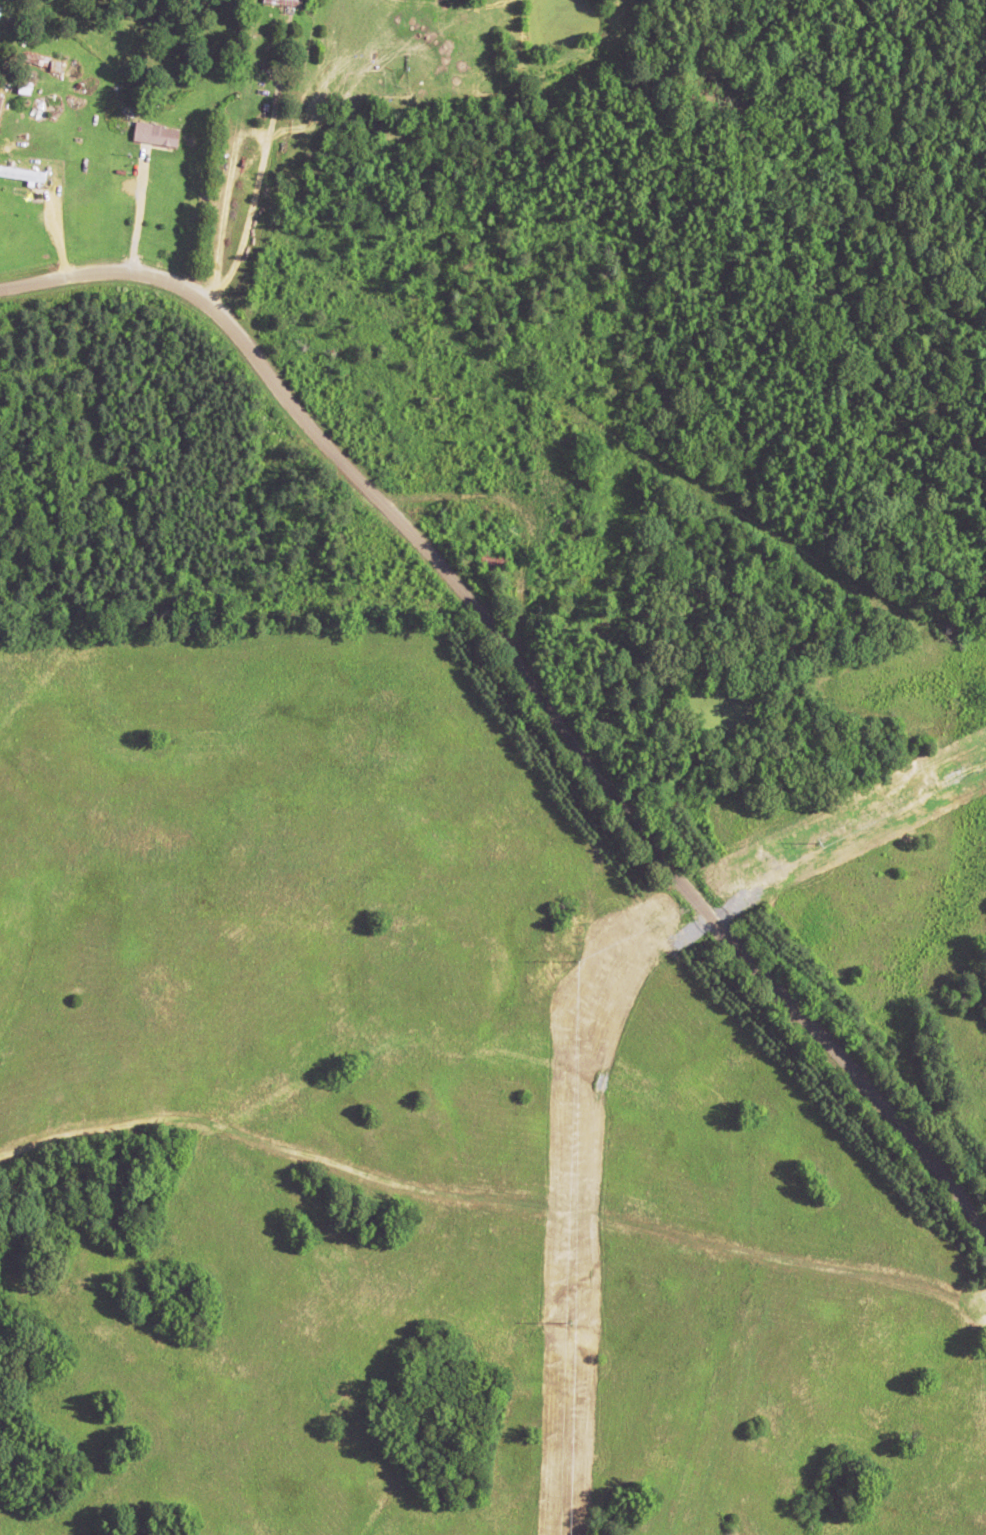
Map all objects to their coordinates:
building: (283, 1)
building: (154, 134)
building: (21, 174)
road: (650, 231)
building: (492, 560)
road: (509, 727)

